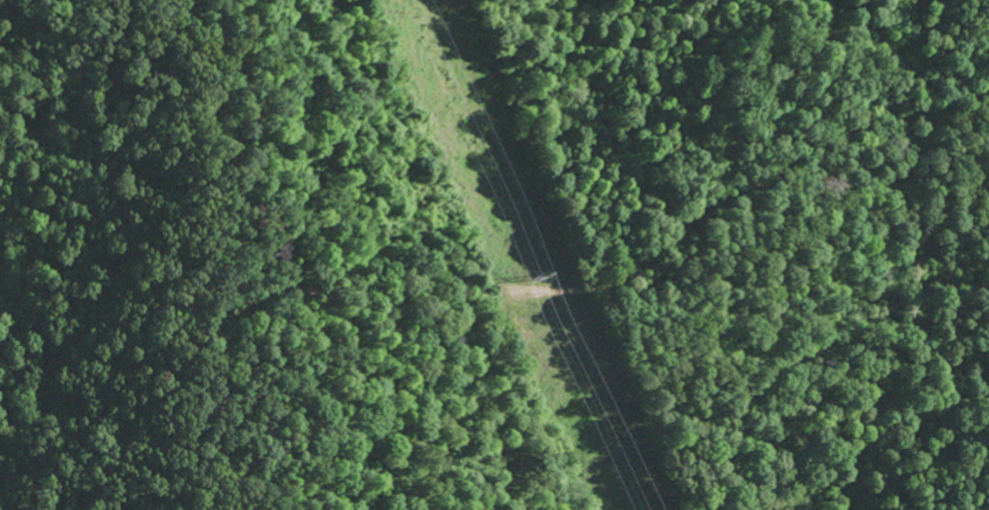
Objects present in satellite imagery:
road: (844, 161)

